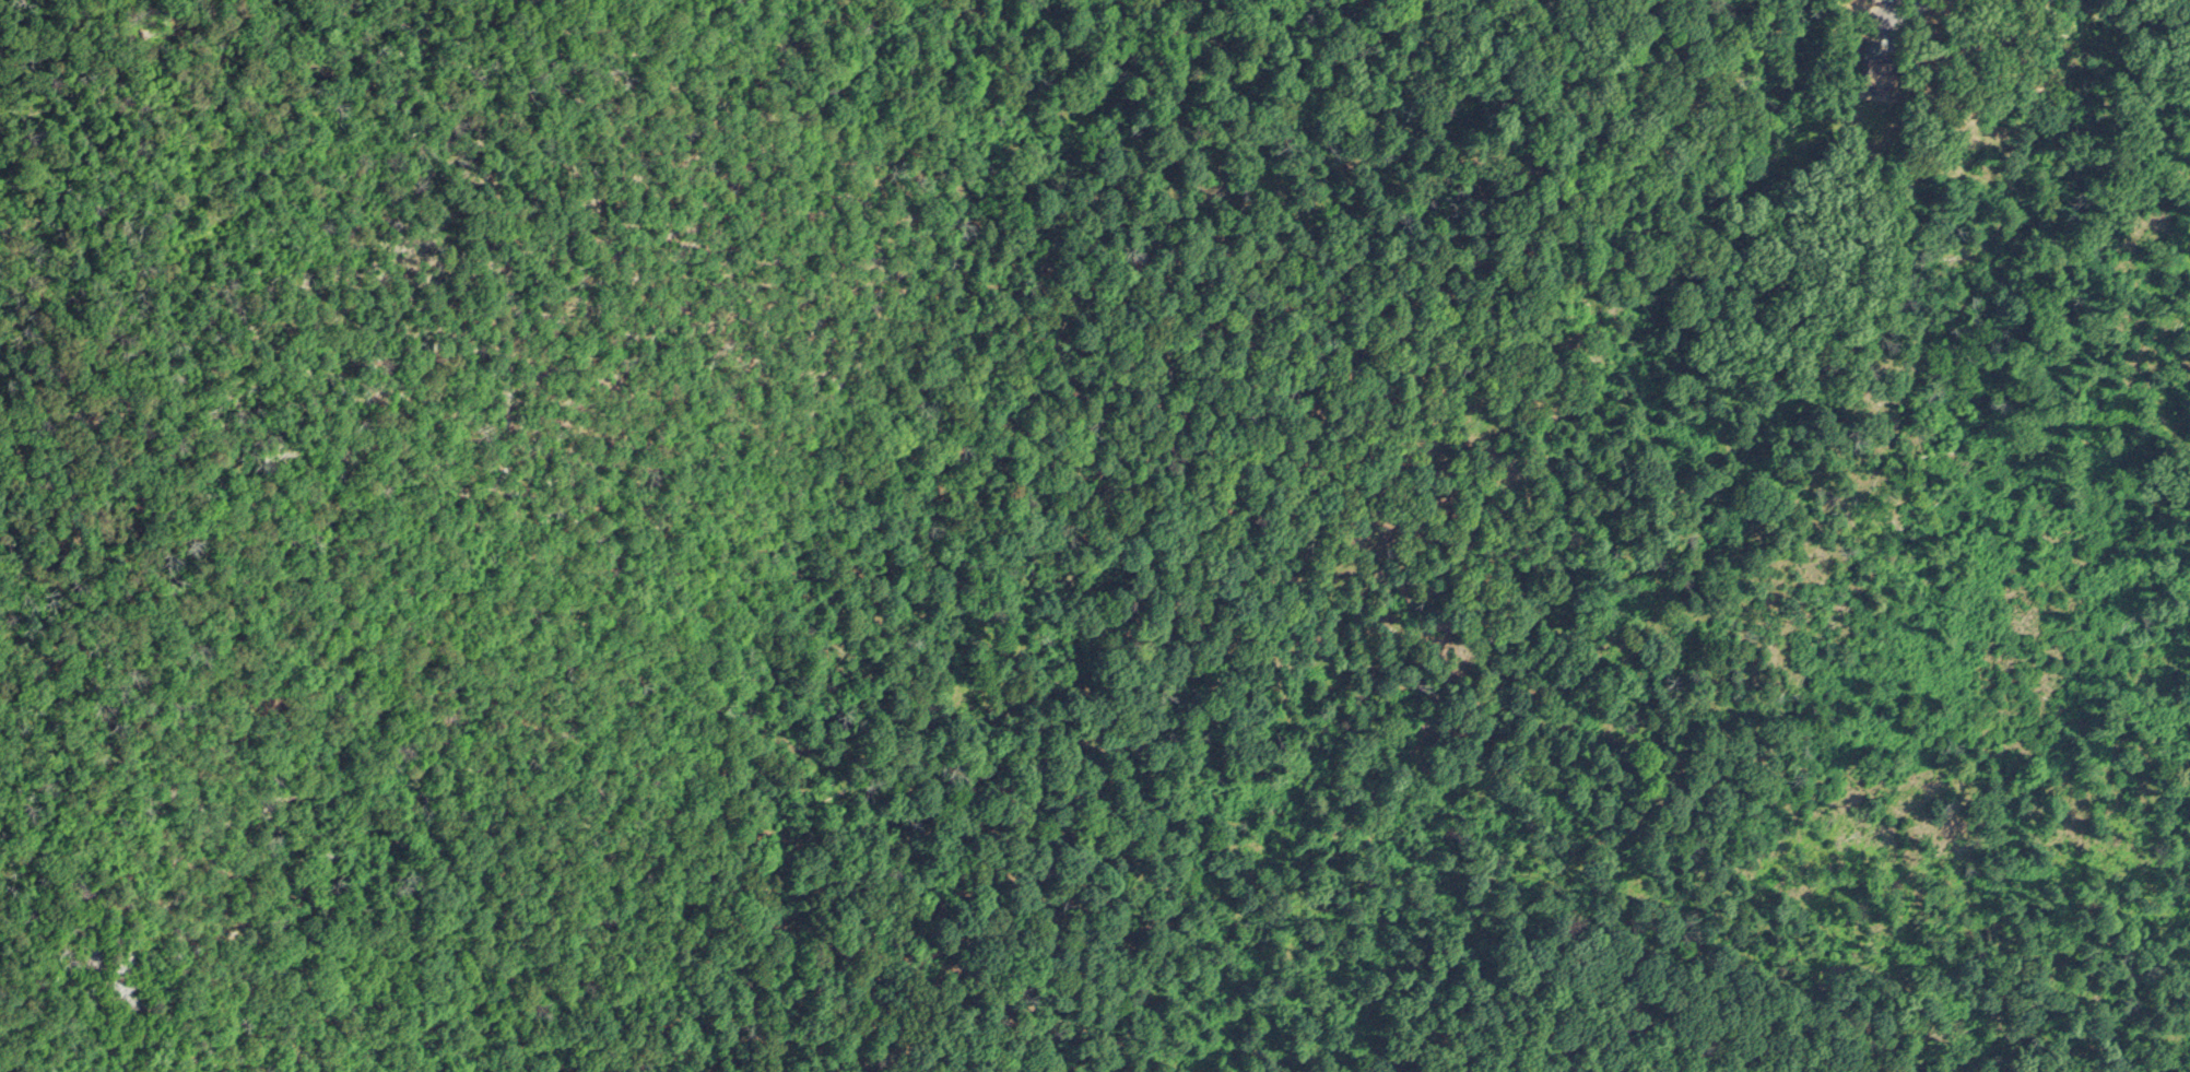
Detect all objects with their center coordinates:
building: (1879, 61)

